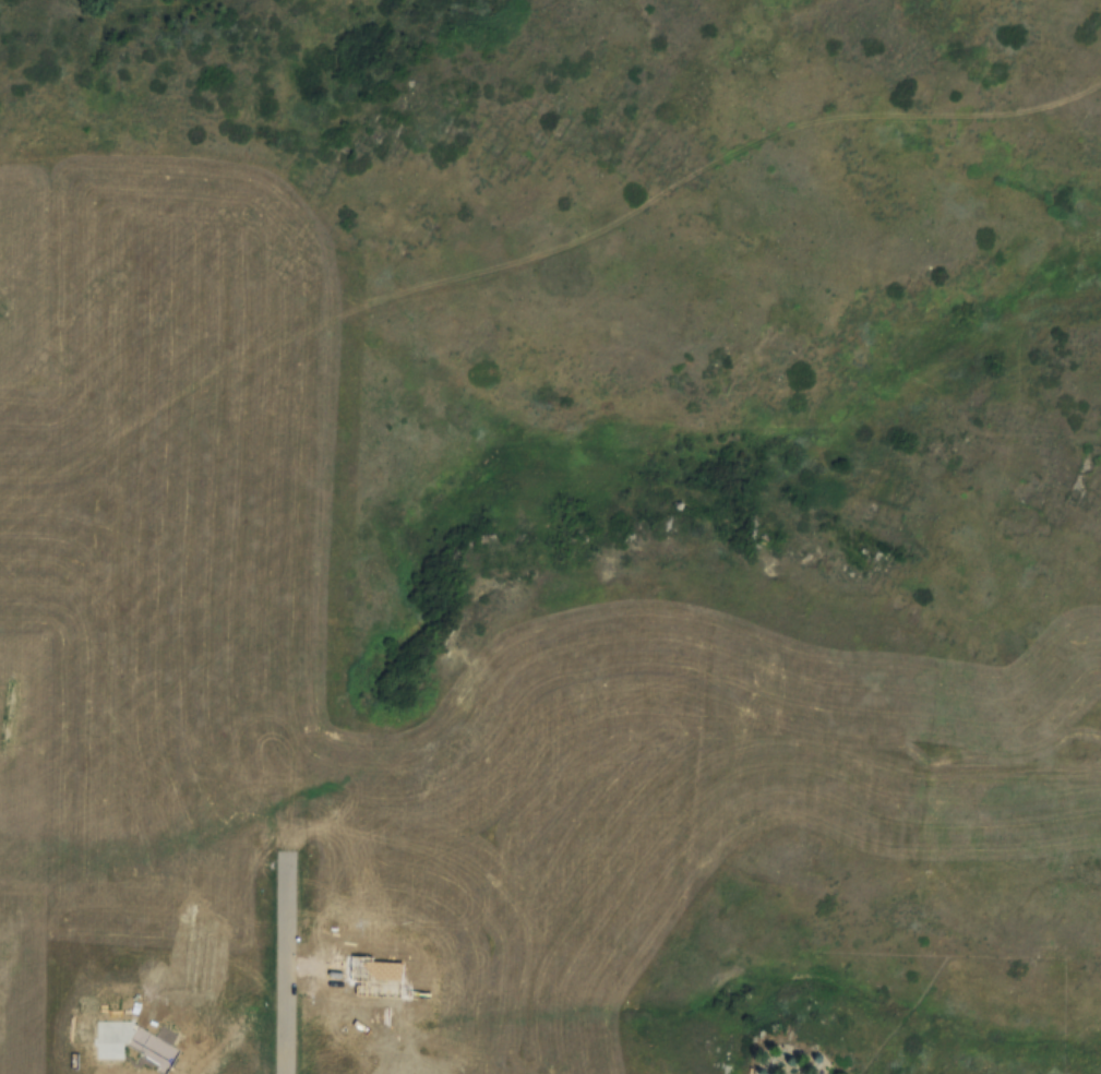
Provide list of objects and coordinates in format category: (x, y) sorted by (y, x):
road: (280, 967)

